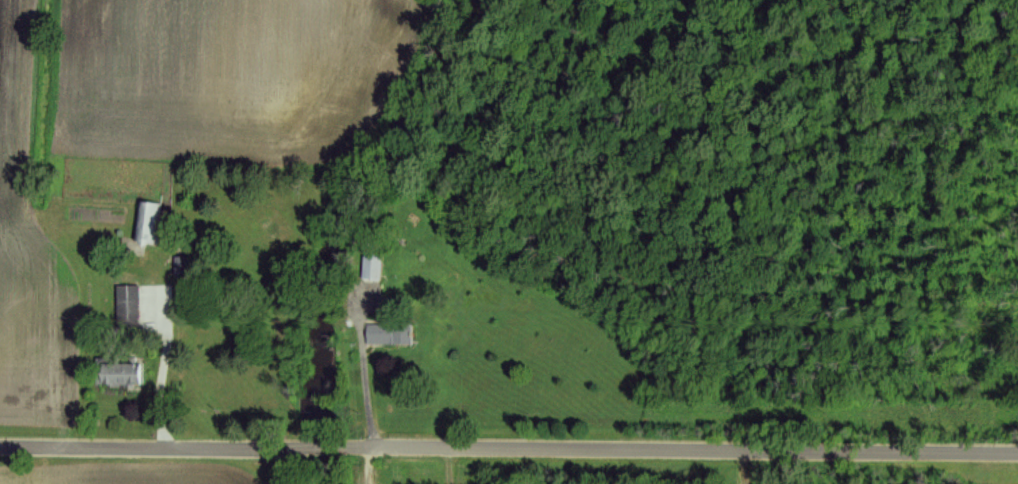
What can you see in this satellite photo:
building: (148, 221)
river: (361, 227)
building: (371, 264)
building: (128, 306)
building: (389, 334)
building: (125, 374)
road: (161, 383)
road: (368, 387)
road: (323, 448)
road: (155, 450)
road: (676, 451)
road: (371, 466)

